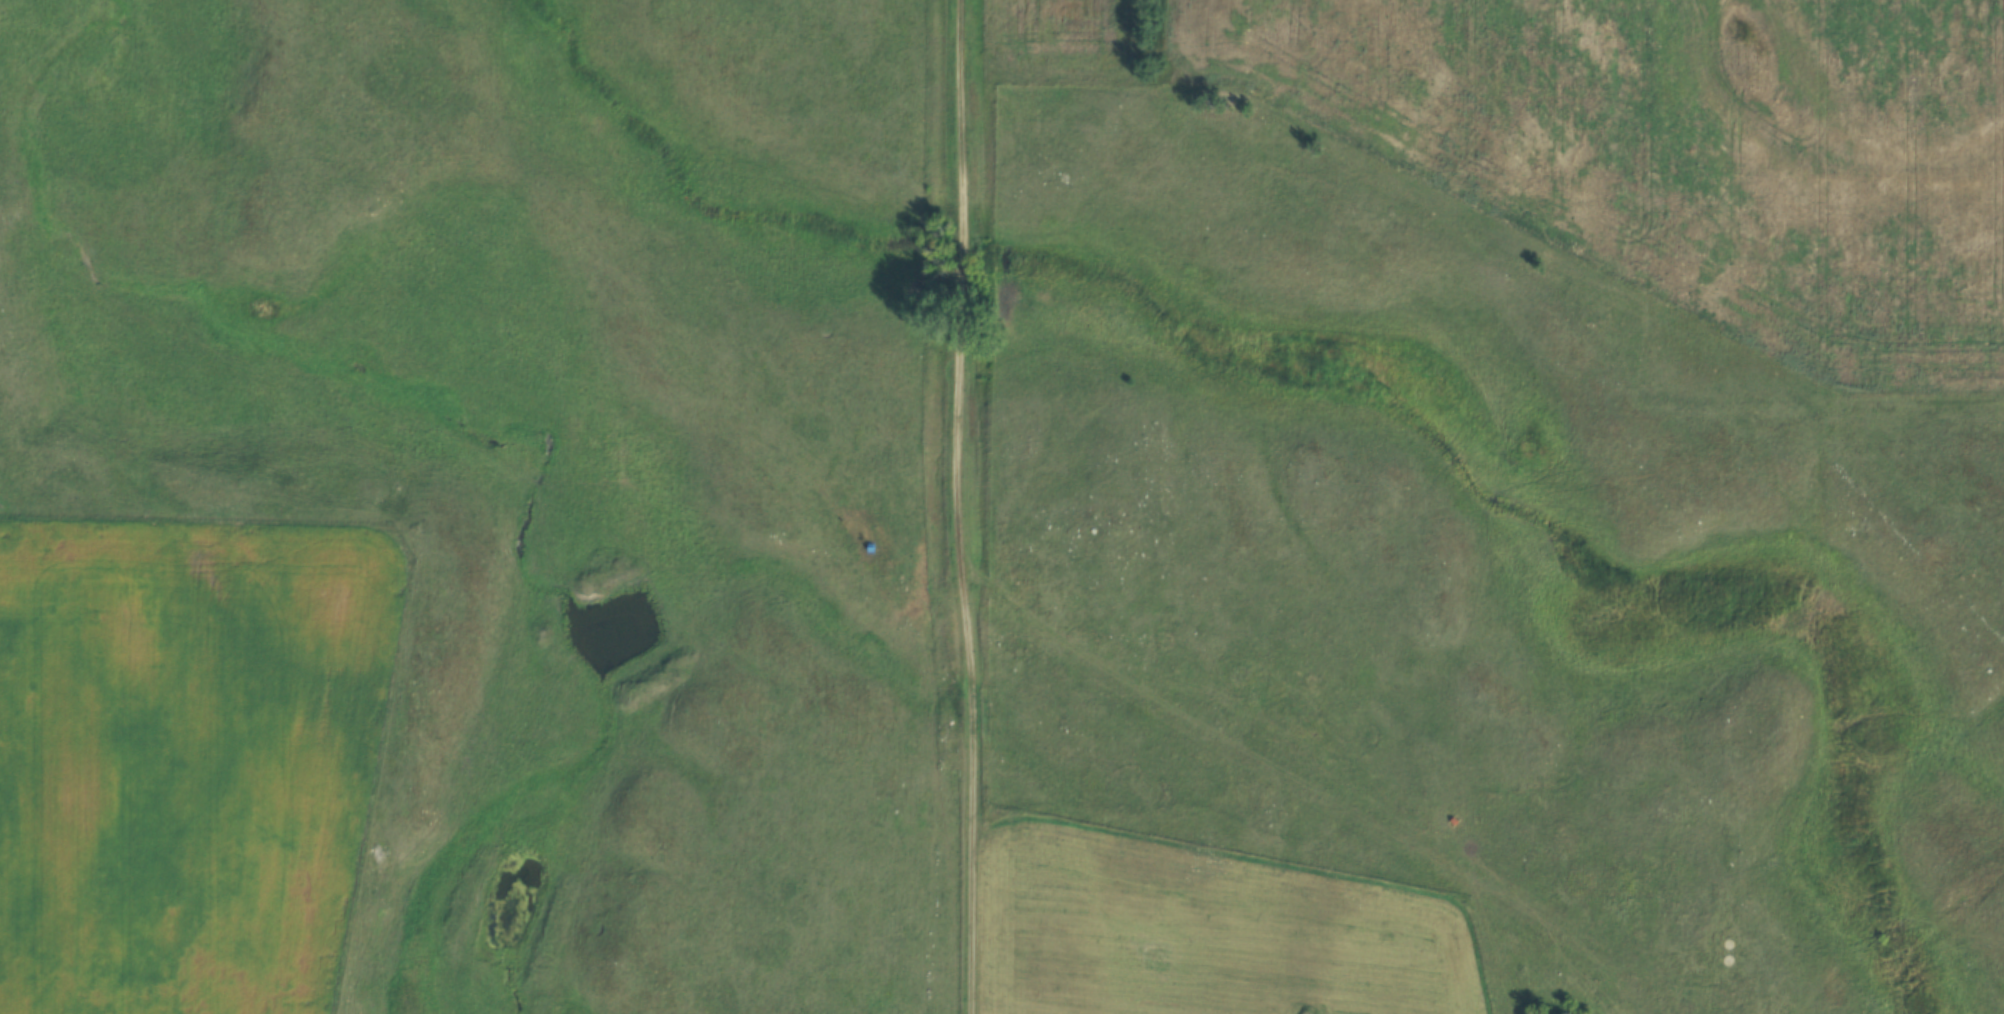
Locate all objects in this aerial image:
road: (968, 507)

